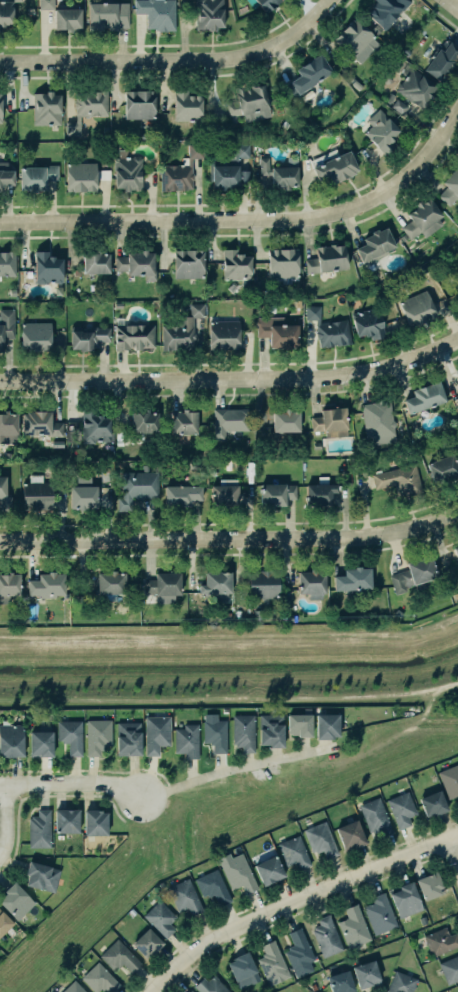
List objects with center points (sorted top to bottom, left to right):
road: (453, 3)
building: (46, 4)
building: (269, 4)
building: (386, 11)
building: (6, 12)
building: (157, 13)
building: (209, 14)
building: (108, 16)
building: (68, 19)
building: (376, 29)
building: (355, 37)
road: (176, 58)
building: (442, 59)
building: (311, 73)
building: (416, 87)
building: (389, 97)
building: (247, 100)
building: (139, 104)
building: (186, 105)
building: (399, 106)
building: (0, 107)
building: (87, 107)
building: (46, 108)
building: (381, 130)
building: (241, 150)
building: (338, 166)
building: (180, 171)
building: (128, 172)
building: (280, 173)
building: (6, 174)
building: (226, 175)
building: (37, 176)
building: (81, 177)
building: (450, 188)
road: (249, 219)
building: (422, 219)
building: (402, 236)
building: (375, 244)
building: (327, 258)
building: (96, 262)
building: (283, 262)
building: (189, 263)
building: (7, 264)
building: (137, 264)
building: (236, 265)
building: (48, 267)
building: (457, 276)
building: (12, 292)
building: (297, 303)
building: (118, 305)
building: (418, 308)
building: (368, 322)
building: (6, 325)
building: (328, 328)
building: (180, 329)
building: (277, 332)
building: (36, 334)
building: (224, 334)
building: (134, 336)
building: (89, 337)
building: (457, 374)
road: (232, 379)
building: (425, 397)
building: (456, 403)
building: (286, 420)
building: (145, 421)
building: (185, 421)
building: (229, 421)
building: (331, 422)
building: (378, 422)
building: (41, 423)
building: (8, 427)
building: (94, 427)
building: (119, 435)
building: (57, 444)
building: (194, 465)
building: (443, 468)
building: (399, 480)
building: (3, 487)
building: (137, 487)
building: (276, 493)
building: (320, 493)
building: (37, 494)
building: (182, 494)
building: (225, 494)
building: (84, 497)
road: (231, 539)
building: (456, 549)
building: (414, 574)
building: (354, 579)
building: (312, 581)
building: (112, 582)
building: (217, 582)
building: (164, 584)
building: (264, 584)
building: (48, 585)
building: (9, 586)
road: (276, 635)
road: (46, 637)
park: (231, 664)
road: (451, 683)
road: (379, 694)
road: (157, 697)
building: (300, 724)
building: (327, 726)
building: (271, 730)
road: (410, 731)
building: (243, 732)
building: (156, 734)
building: (215, 735)
building: (70, 736)
building: (97, 736)
building: (128, 738)
building: (11, 741)
building: (187, 741)
building: (41, 744)
road: (237, 768)
building: (449, 780)
road: (72, 783)
building: (433, 803)
building: (401, 809)
building: (375, 817)
road: (4, 819)
building: (67, 820)
building: (96, 822)
building: (39, 829)
building: (350, 836)
building: (59, 837)
building: (321, 840)
building: (293, 852)
road: (451, 857)
building: (270, 870)
building: (237, 872)
building: (42, 875)
building: (160, 884)
building: (430, 884)
building: (212, 886)
building: (184, 896)
building: (406, 899)
building: (16, 900)
road: (297, 901)
building: (131, 912)
building: (379, 913)
building: (160, 918)
building: (422, 920)
building: (4, 922)
building: (353, 926)
building: (326, 936)
building: (440, 941)
building: (147, 942)
building: (298, 949)
building: (119, 956)
building: (272, 963)
building: (243, 969)
building: (450, 969)
building: (367, 974)
building: (100, 978)
building: (340, 981)
building: (401, 983)
building: (210, 985)
building: (73, 987)
building: (191, 991)

